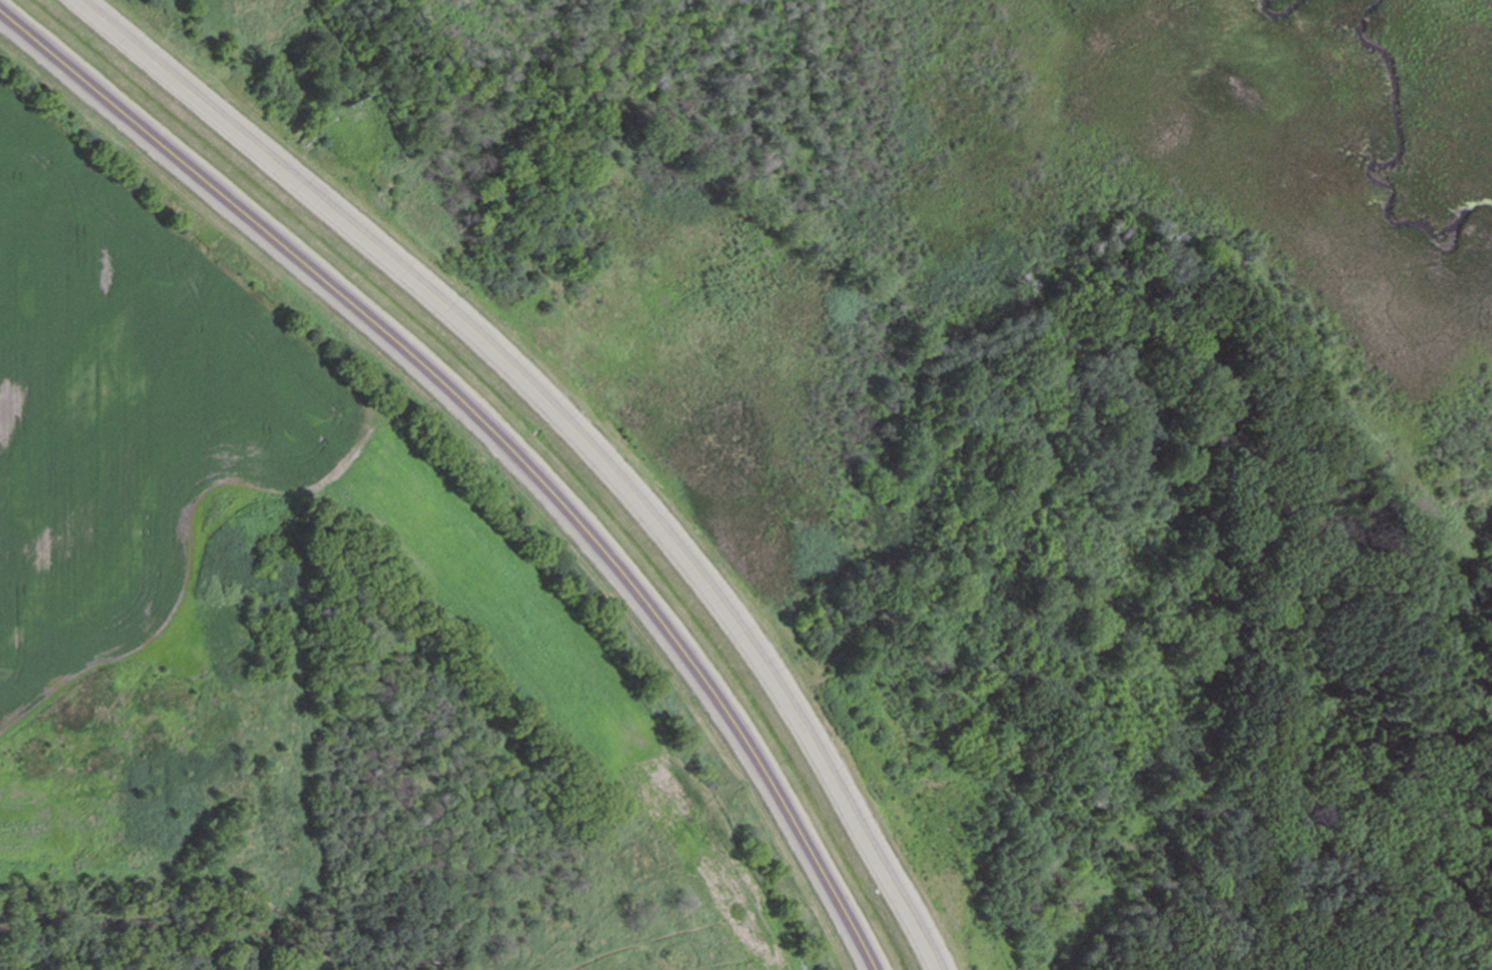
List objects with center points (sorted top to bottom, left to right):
road: (574, 428)
road: (495, 439)
road: (1472, 883)

